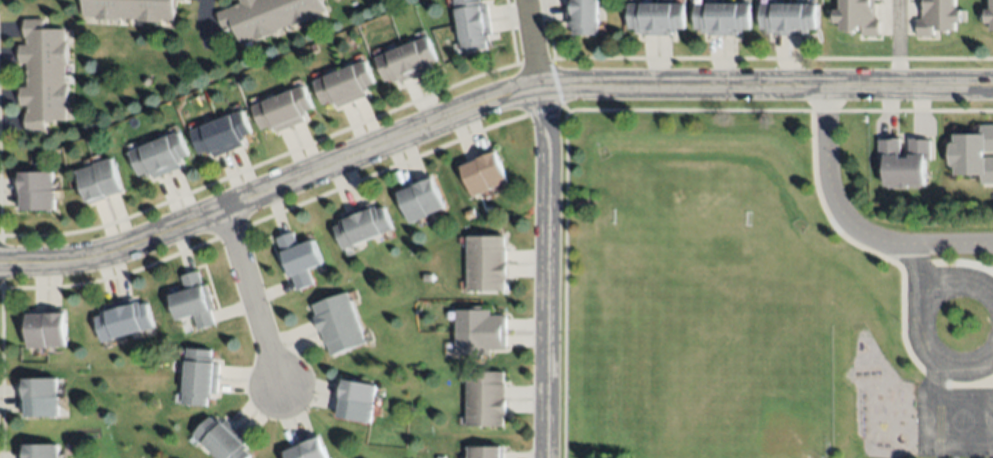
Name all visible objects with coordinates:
building: (129, 8)
building: (264, 15)
building: (580, 15)
building: (857, 15)
building: (989, 15)
building: (655, 16)
building: (938, 16)
building: (722, 17)
building: (788, 17)
building: (471, 23)
road: (897, 44)
building: (406, 59)
building: (42, 73)
building: (343, 83)
road: (482, 101)
building: (281, 108)
building: (219, 133)
building: (972, 152)
building: (158, 154)
building: (903, 158)
building: (482, 172)
building: (99, 179)
building: (35, 187)
building: (420, 197)
building: (361, 223)
road: (850, 227)
road: (546, 228)
road: (908, 253)
building: (297, 257)
building: (485, 261)
road: (948, 284)
road: (246, 298)
building: (192, 300)
building: (123, 318)
building: (336, 322)
building: (45, 328)
building: (478, 330)
road: (920, 346)
building: (199, 375)
road: (992, 380)
building: (40, 395)
building: (354, 396)
building: (485, 396)
building: (221, 438)
building: (308, 449)
building: (40, 450)
building: (484, 450)

